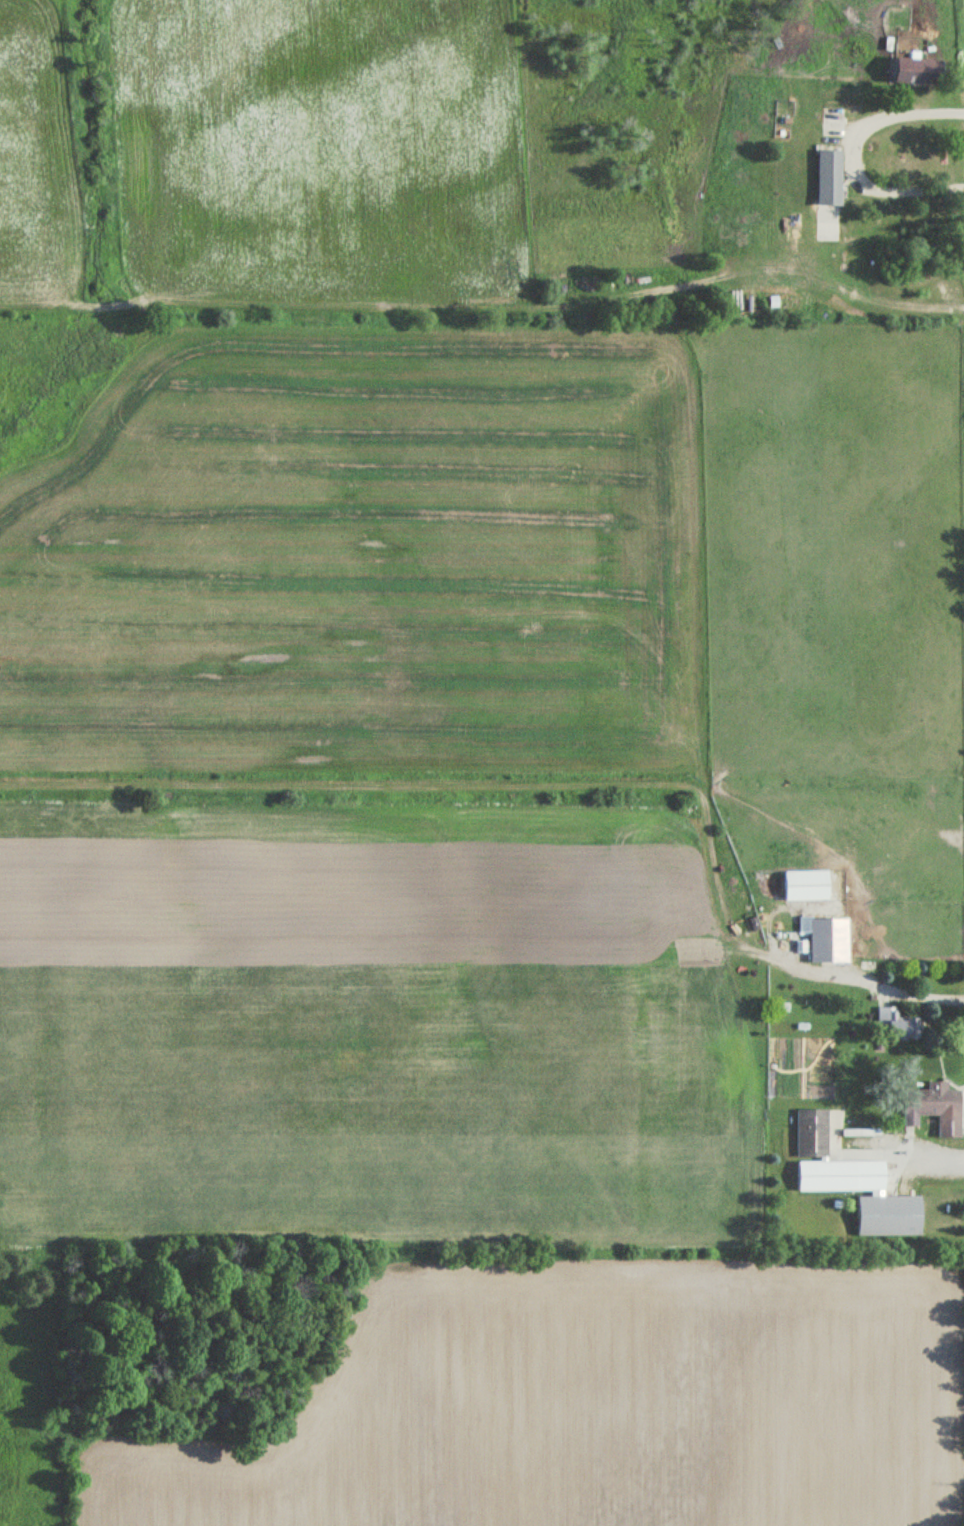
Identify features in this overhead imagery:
building: (911, 72)
road: (850, 153)
building: (826, 179)
building: (803, 883)
building: (826, 938)
road: (868, 981)
building: (892, 1023)
building: (934, 1105)
road: (925, 1149)
building: (818, 1153)

